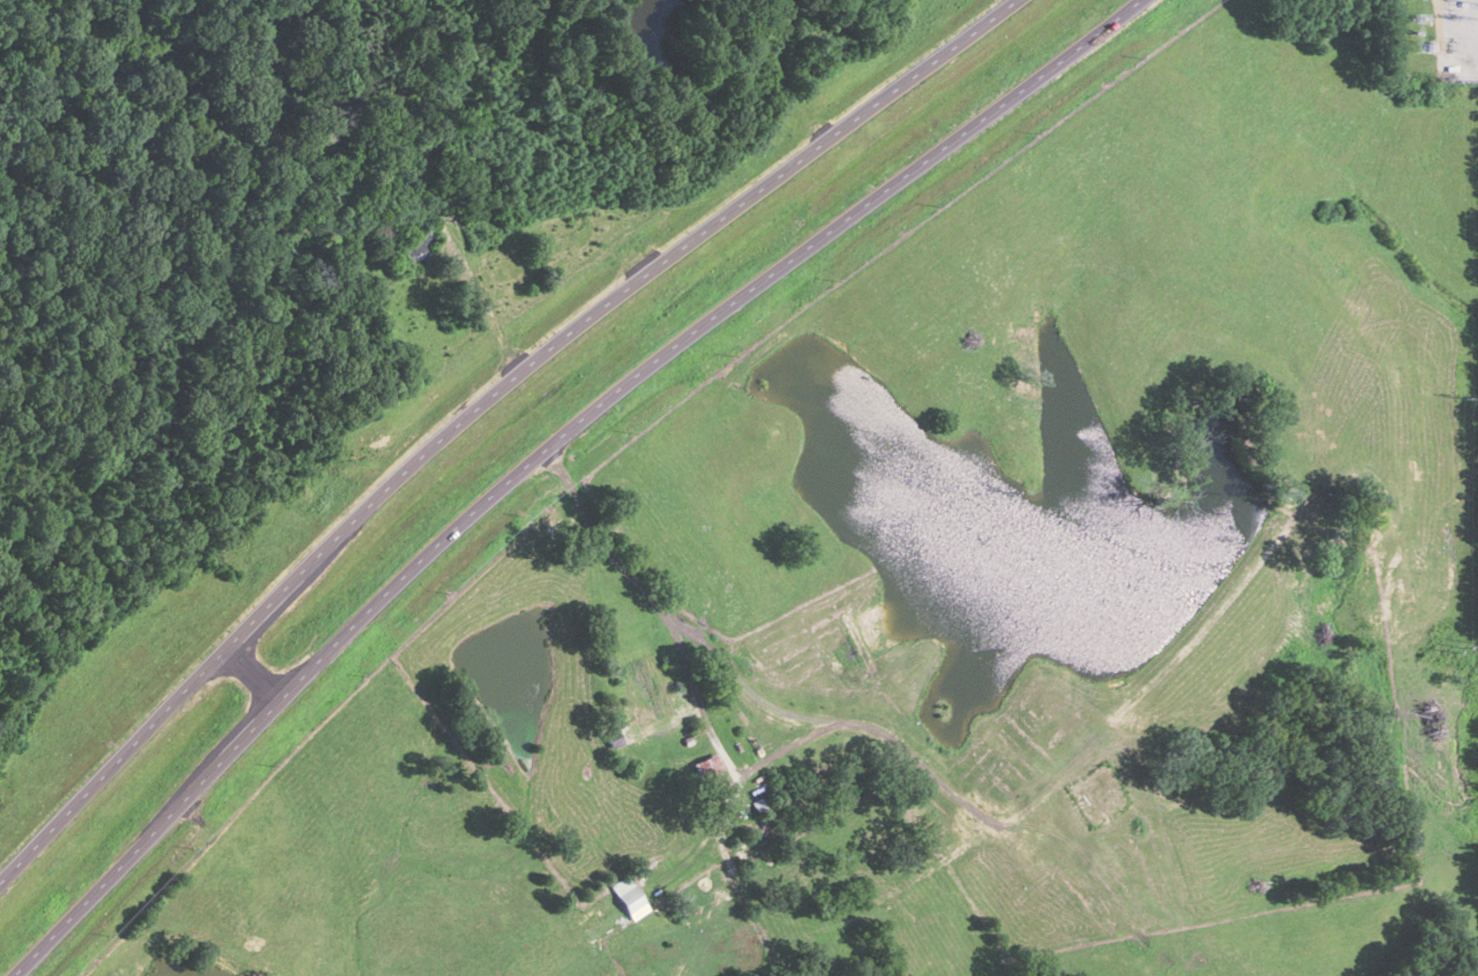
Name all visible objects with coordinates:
building: (431, 211)
building: (413, 251)
road: (51, 384)
road: (478, 406)
road: (543, 448)
road: (620, 566)
building: (655, 693)
building: (709, 772)
building: (629, 896)

